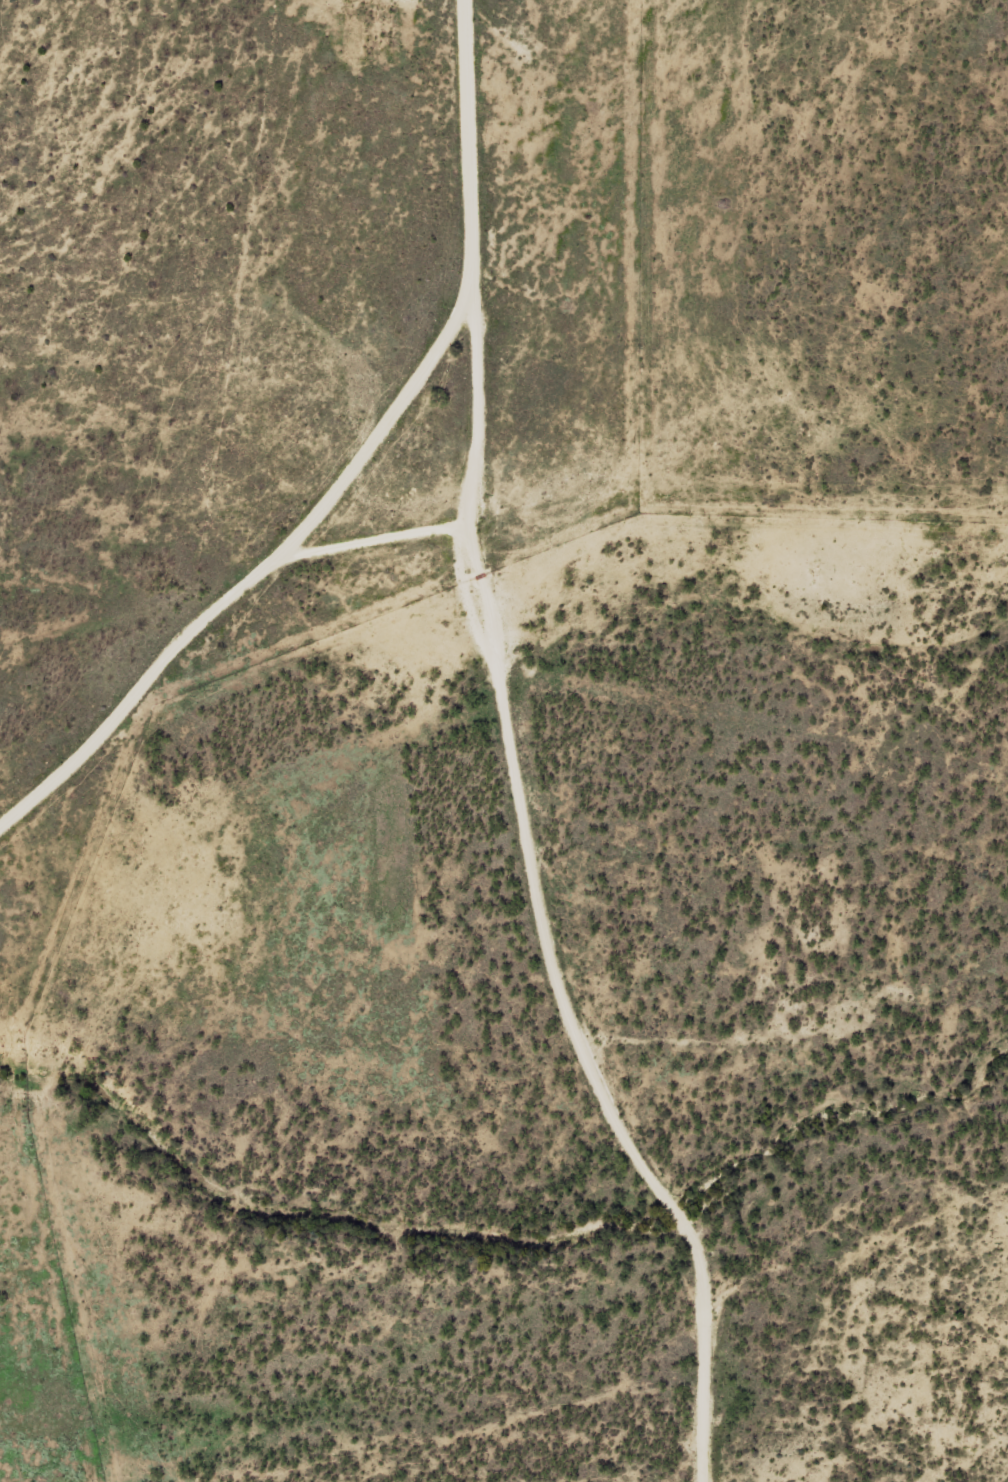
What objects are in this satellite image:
road: (397, 524)
road: (246, 571)
road: (544, 759)

